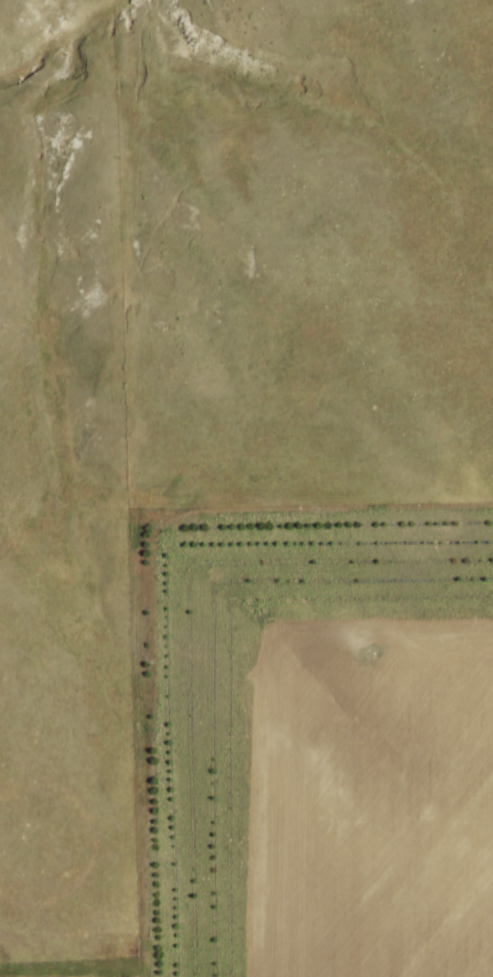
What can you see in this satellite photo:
crop: (367, 788)
crop: (72, 975)

